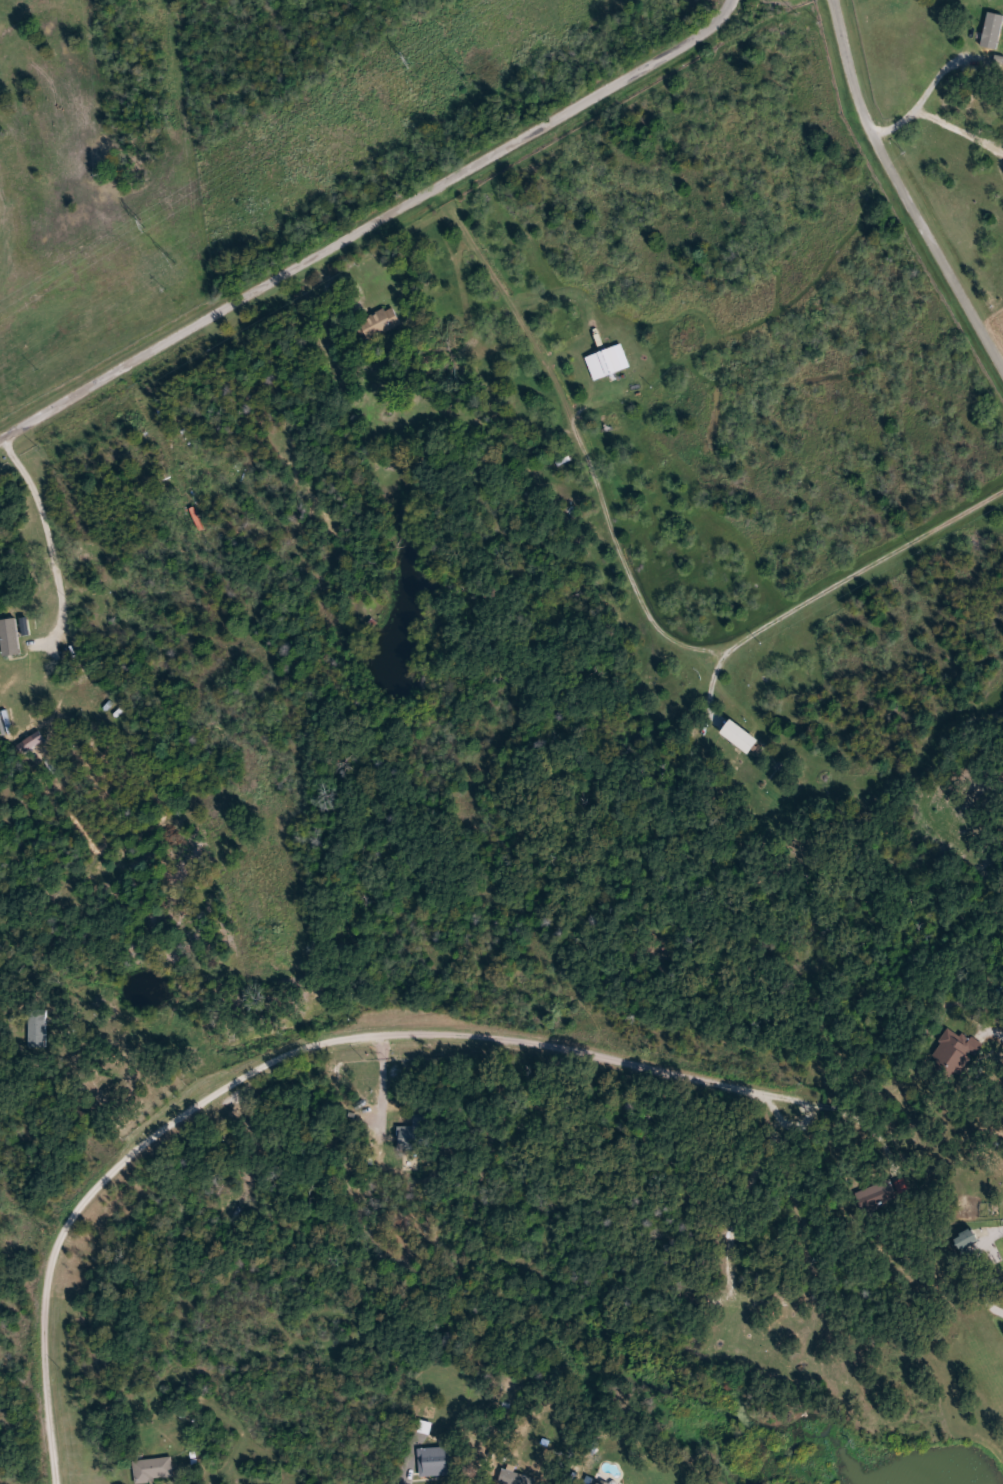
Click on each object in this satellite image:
road: (903, 190)
road: (371, 224)
building: (381, 322)
building: (608, 362)
building: (10, 637)
building: (955, 1051)
road: (279, 1058)
building: (422, 1123)
building: (879, 1197)
building: (967, 1239)
building: (436, 1461)
building: (153, 1468)
building: (596, 1482)

